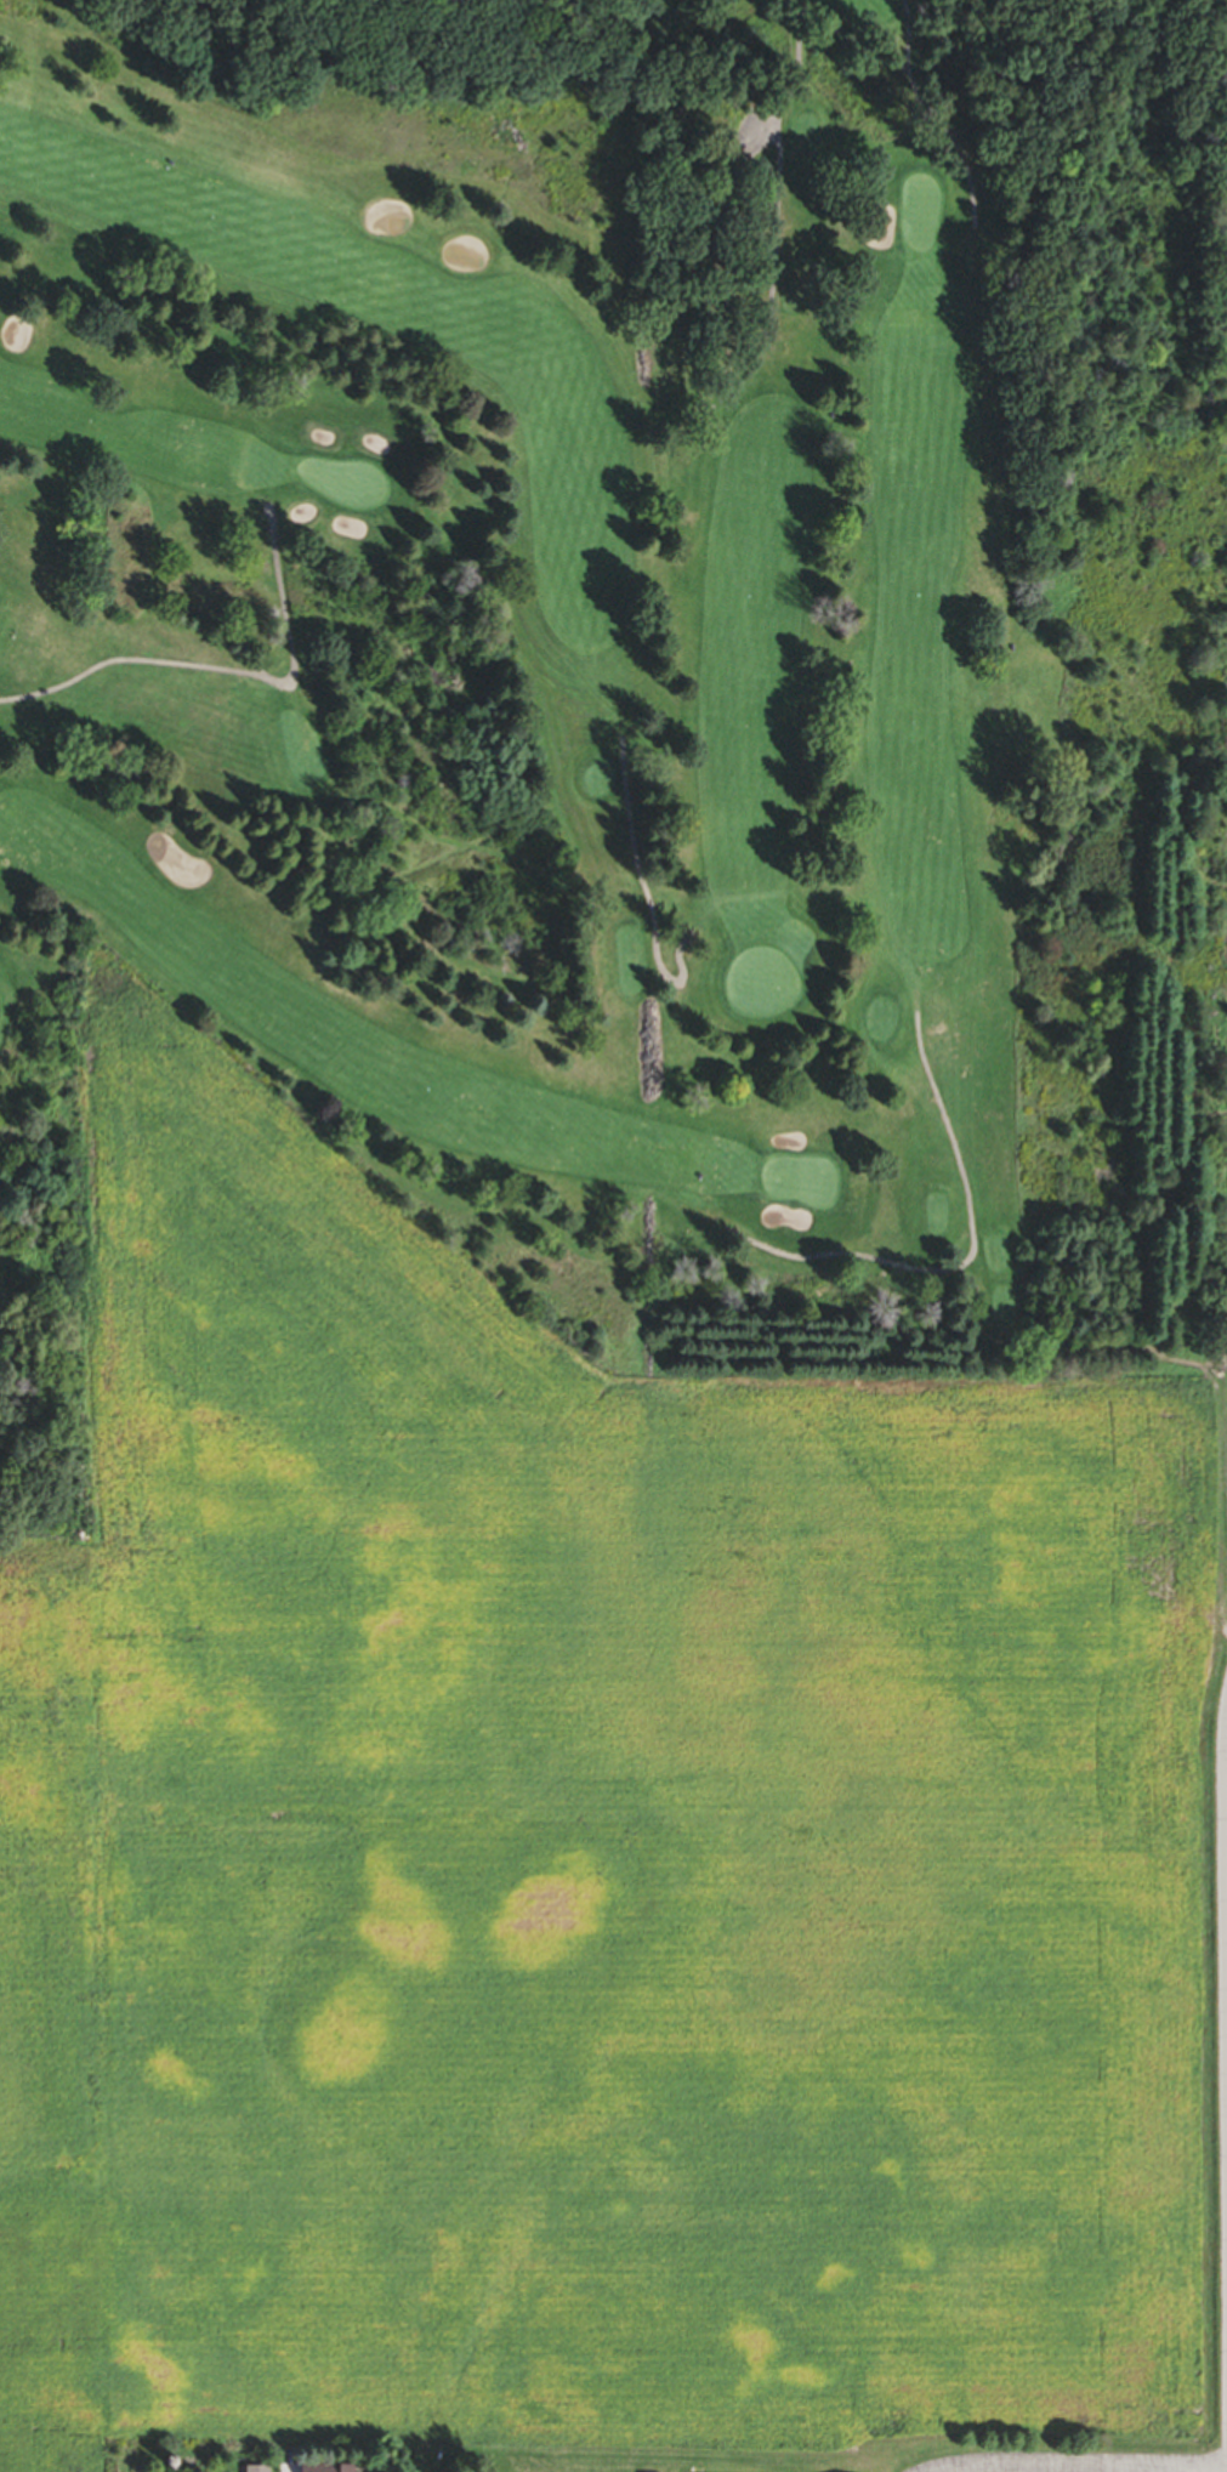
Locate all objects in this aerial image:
road: (852, 41)
road: (937, 112)
road: (750, 138)
building: (727, 147)
road: (777, 167)
road: (229, 675)
park: (570, 691)
road: (643, 894)
road: (648, 1051)
road: (649, 1240)
road: (967, 1261)
road: (1226, 1769)
road: (1036, 2466)
road: (1185, 2467)
road: (280, 2470)
building: (322, 2470)
road: (1141, 2470)
building: (255, 2471)

